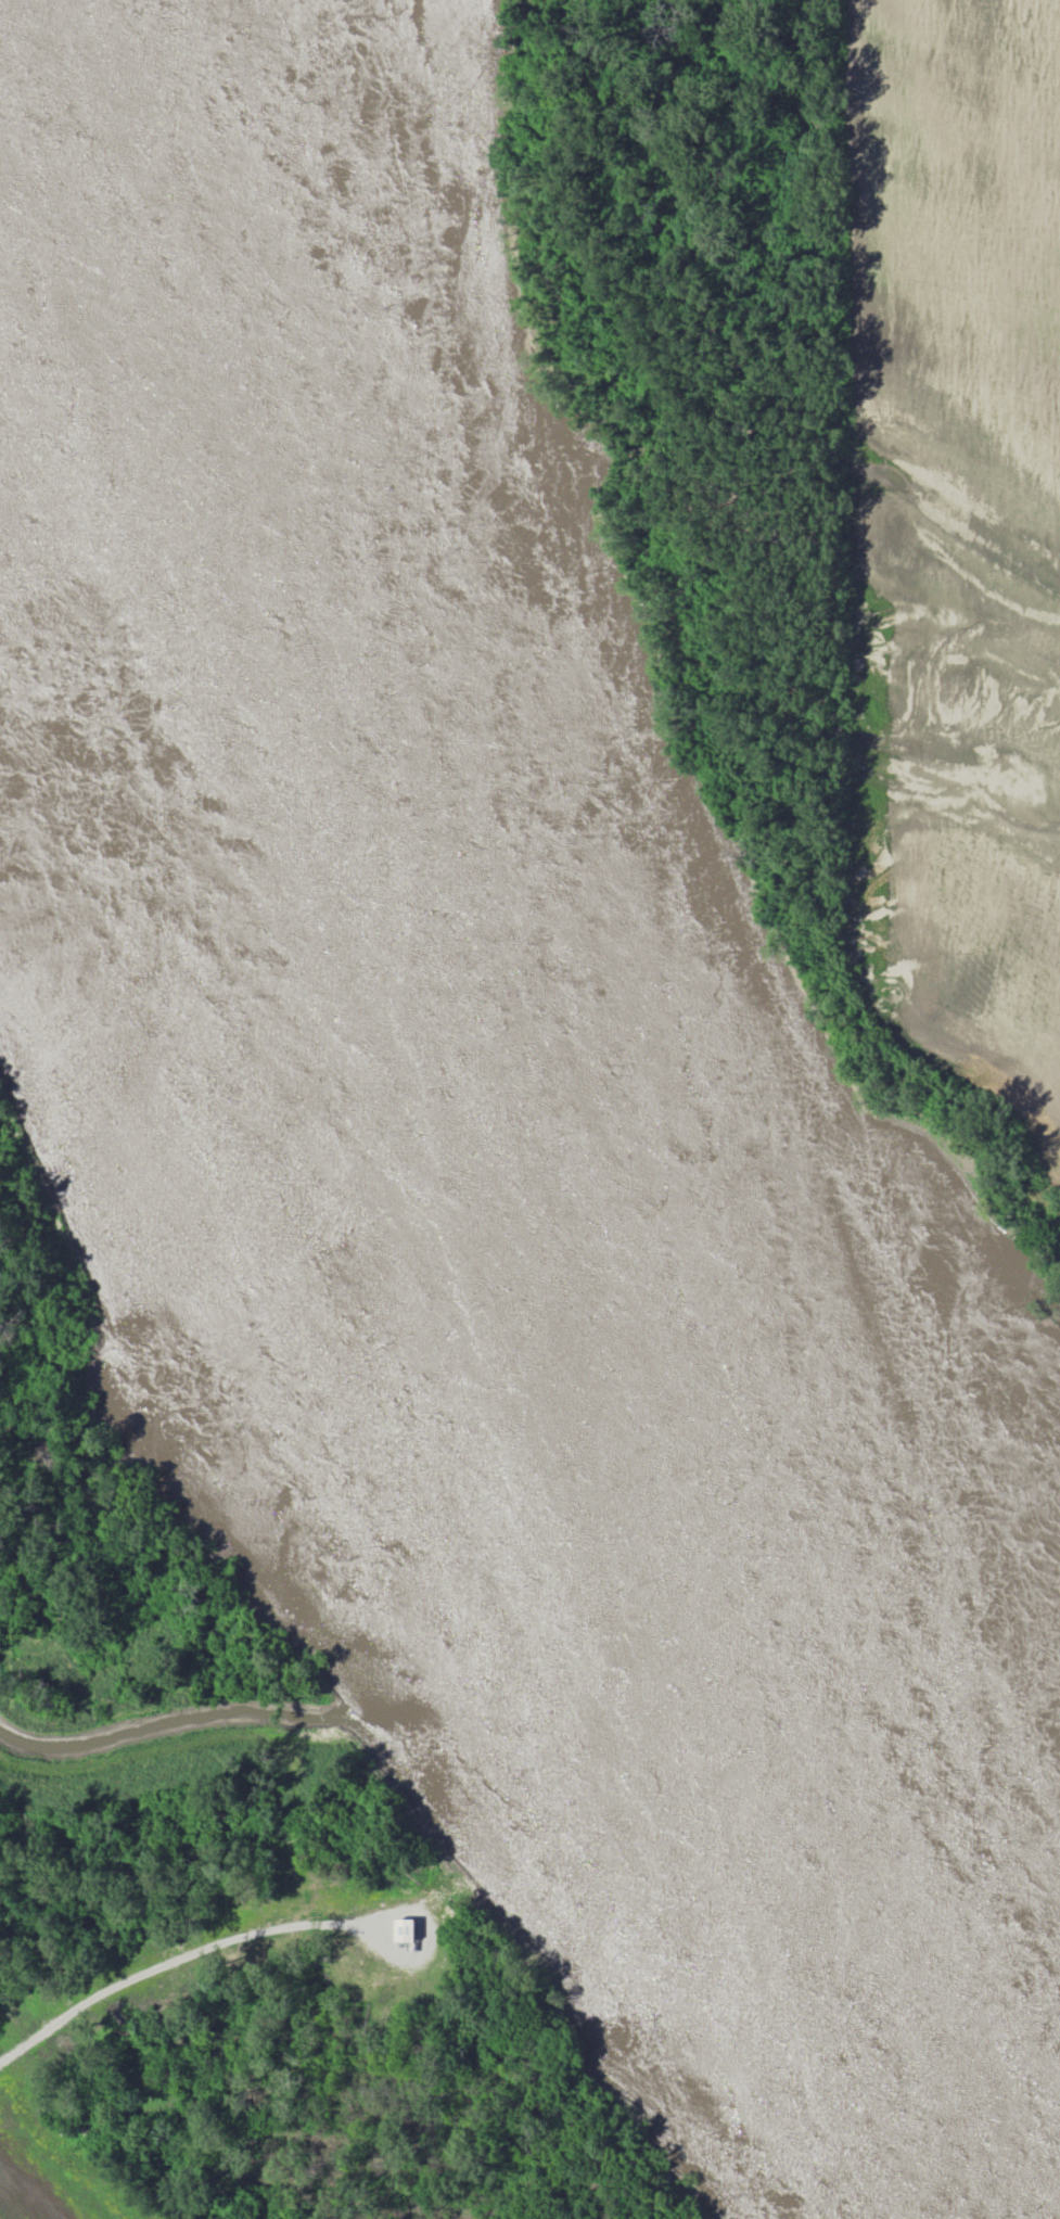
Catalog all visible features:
crop: (957, 538)
river: (462, 1066)
crop: (48, 2169)

